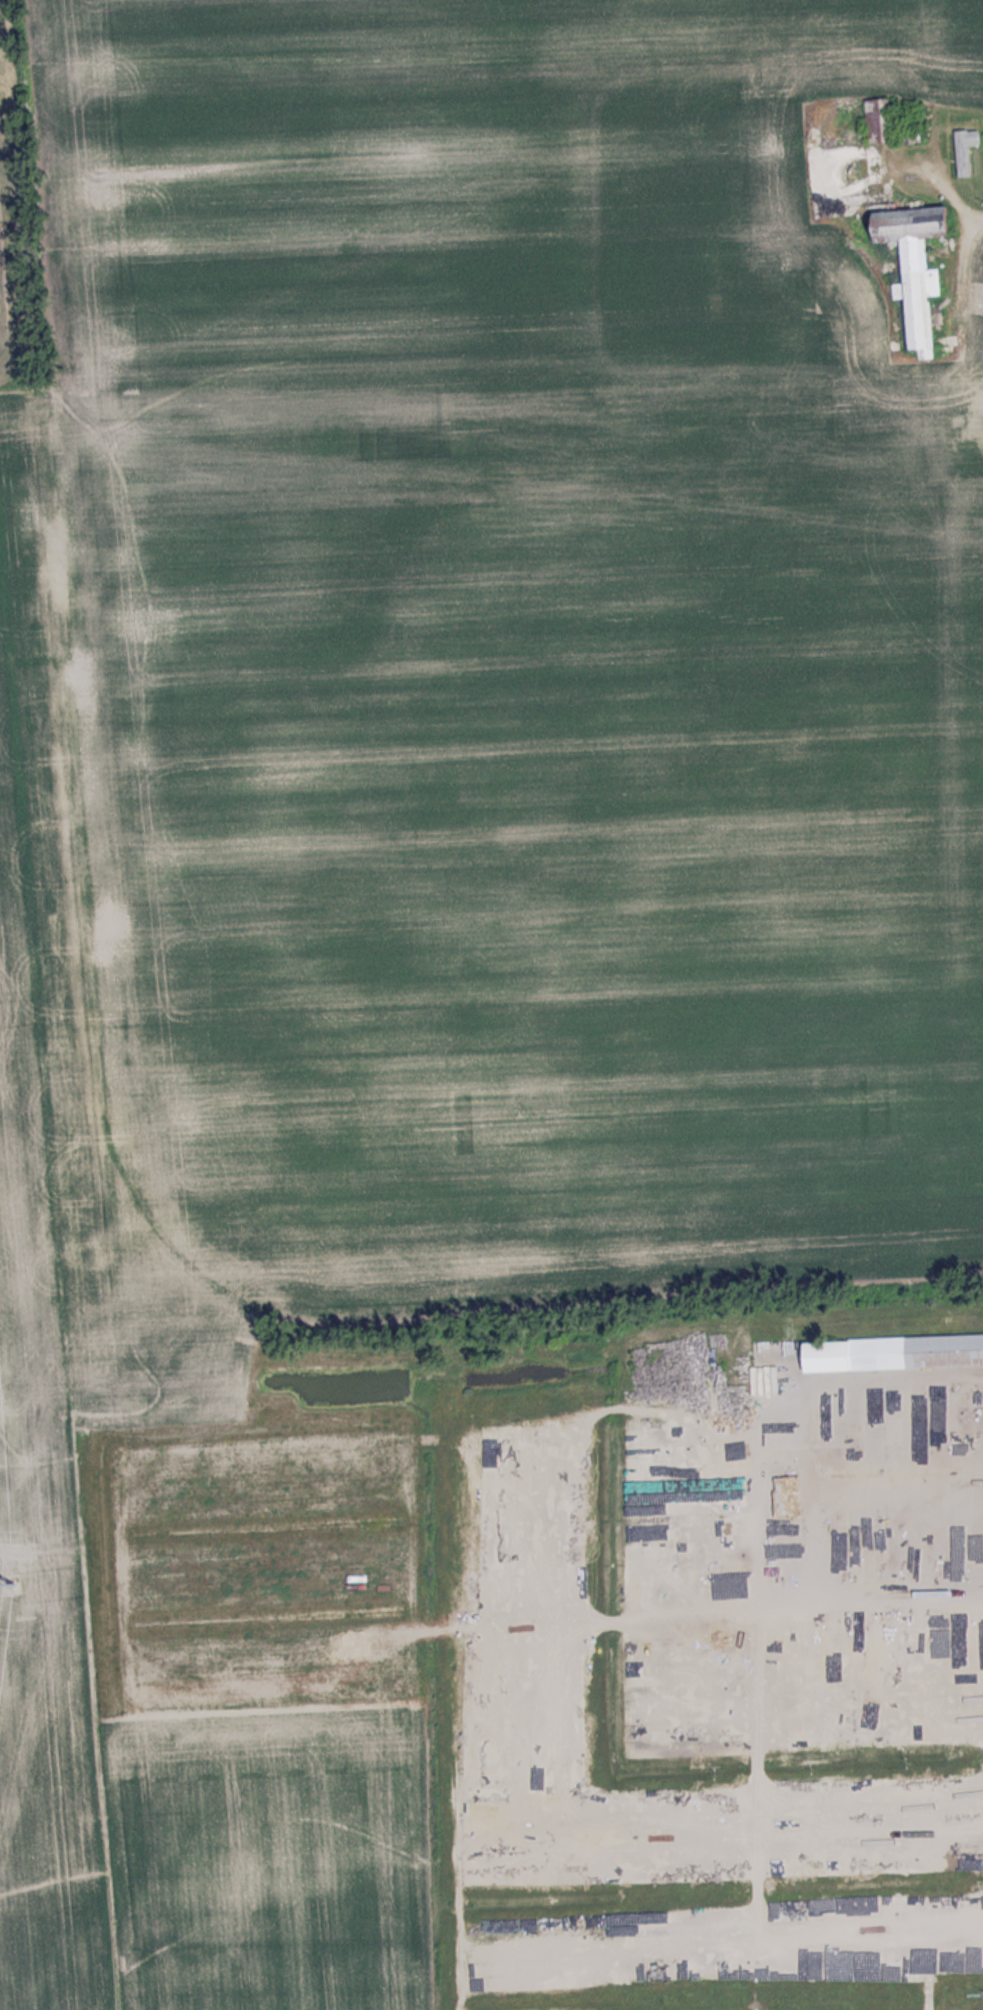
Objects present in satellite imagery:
building: (874, 120)
building: (962, 150)
building: (907, 267)
building: (896, 1353)
power tower: (9, 1574)

